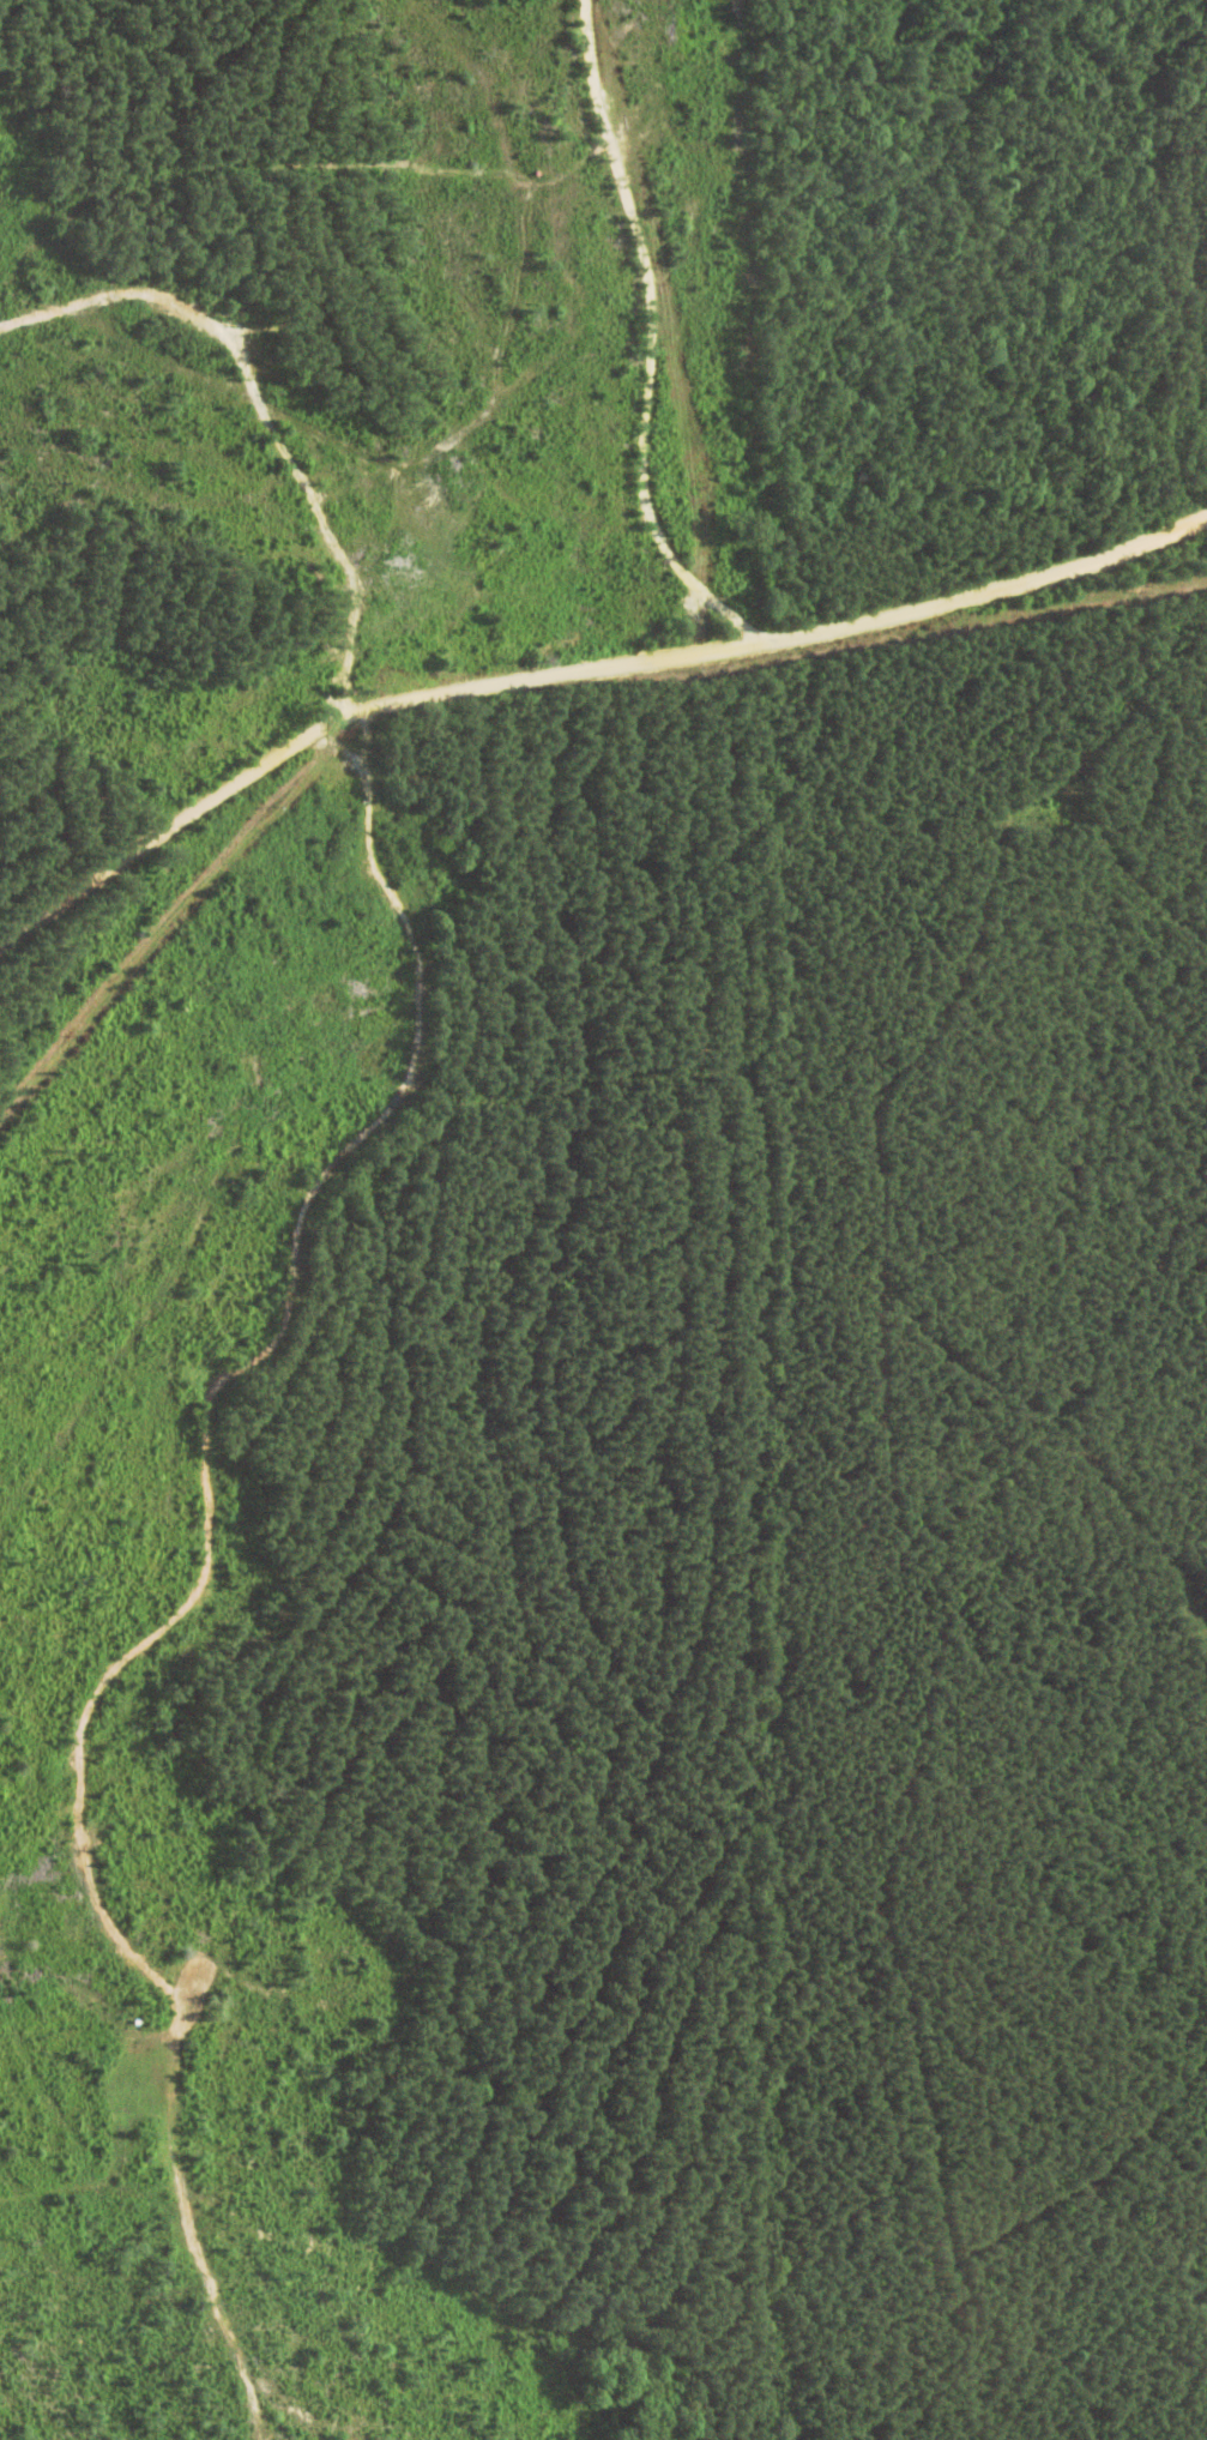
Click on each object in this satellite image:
road: (644, 341)
road: (578, 670)

